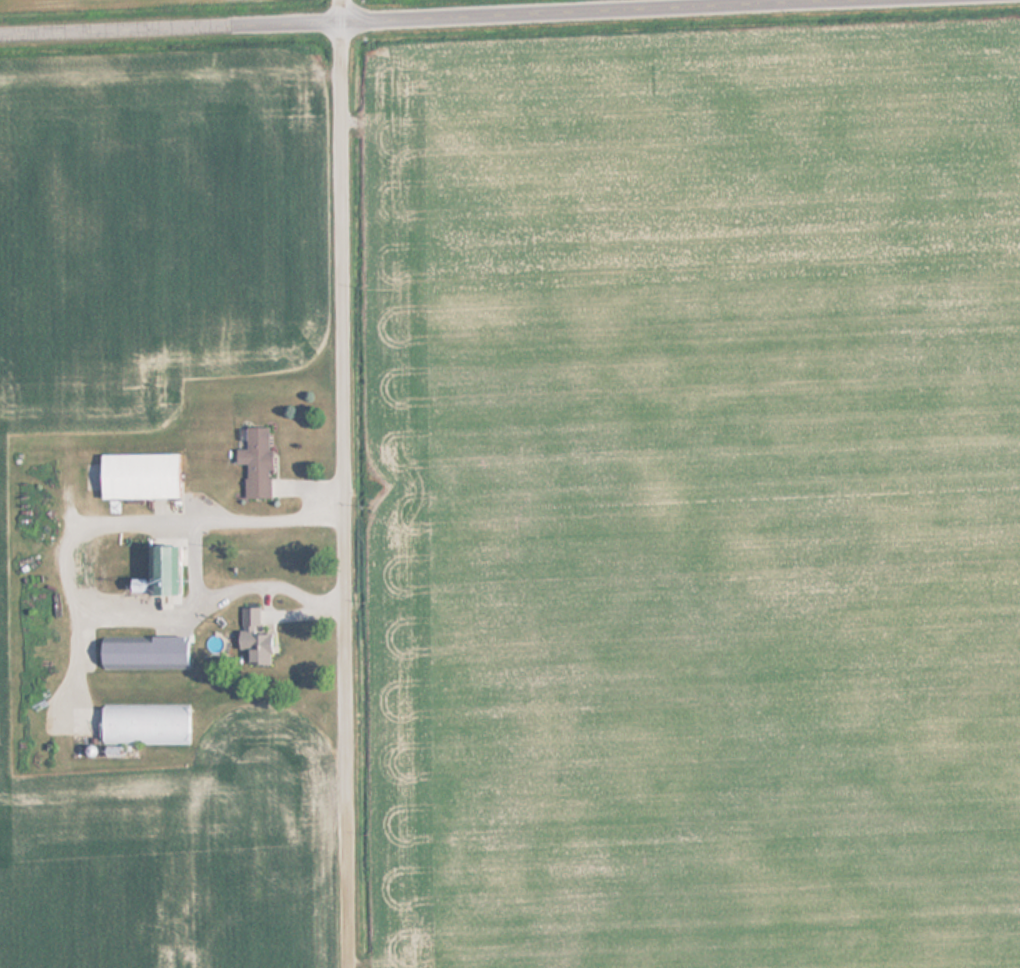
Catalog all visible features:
road: (415, 18)
building: (255, 461)
building: (135, 475)
road: (352, 483)
building: (158, 568)
building: (242, 642)
building: (141, 654)
building: (144, 725)

